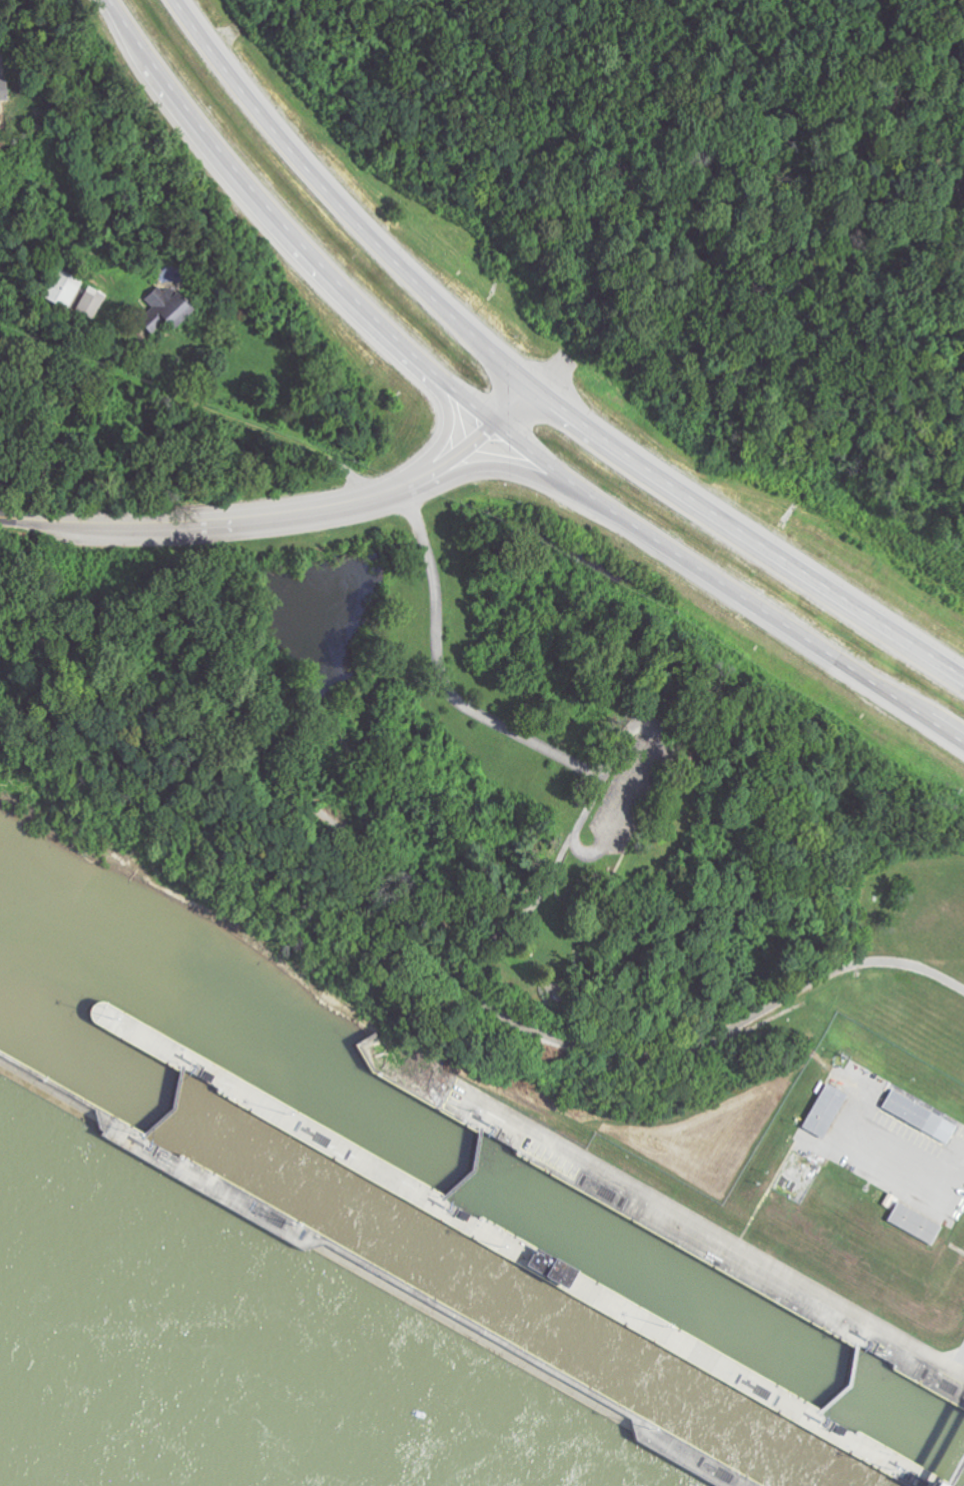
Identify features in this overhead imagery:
building: (3, 90)
road: (342, 209)
building: (63, 288)
building: (92, 302)
road: (490, 423)
road: (283, 511)
road: (749, 538)
building: (664, 747)
road: (582, 756)
park: (552, 787)
parking lot: (617, 793)
road: (650, 802)
road: (596, 918)
road: (442, 958)
park: (908, 964)
river: (239, 1040)
river: (80, 1062)
building: (825, 1110)
building: (919, 1116)
road: (905, 1158)
building: (915, 1223)
river: (657, 1279)
river: (493, 1299)
river: (905, 1419)

